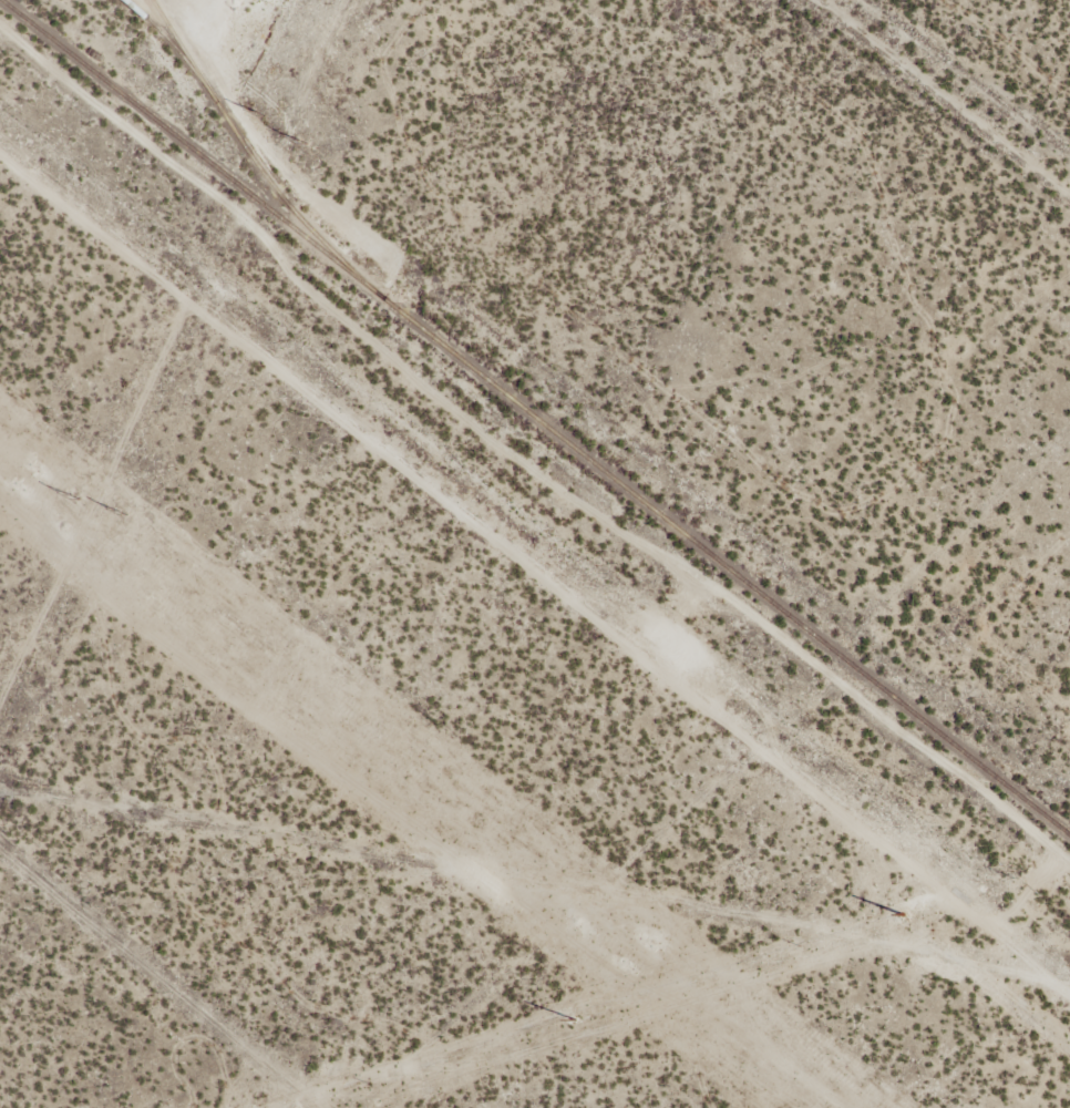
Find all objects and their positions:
power tower: (263, 114)
power tower: (303, 142)
railway: (535, 418)
power tower: (25, 479)
power tower: (74, 499)
power tower: (123, 514)
power tower: (901, 914)
power tower: (632, 955)
power tower: (577, 1022)

